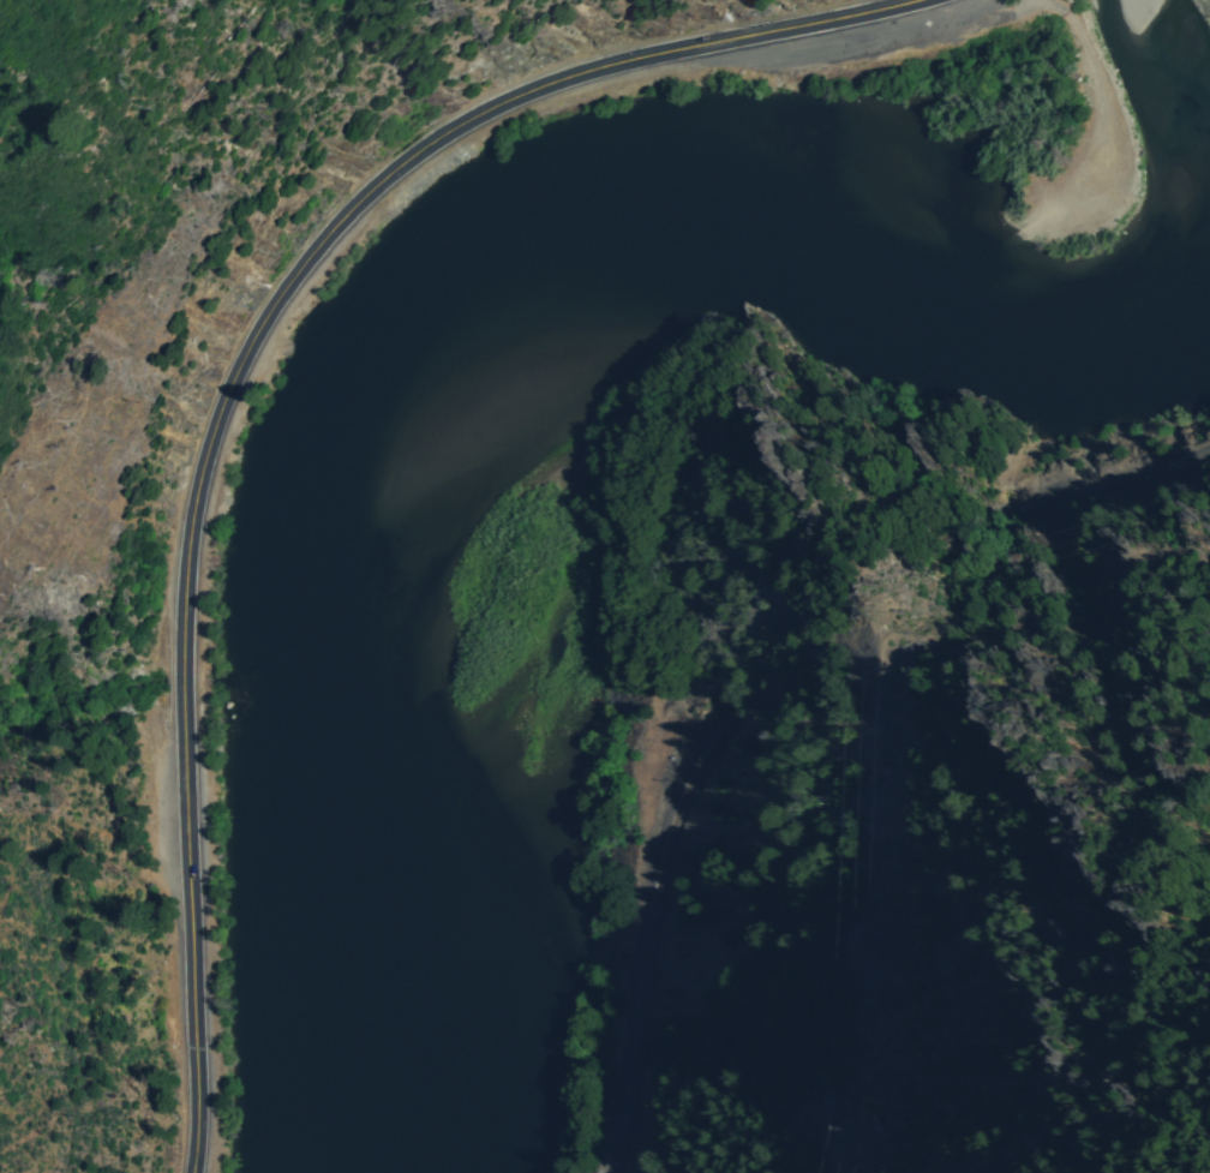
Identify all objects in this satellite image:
parking lot: (1208, 4)
parking lot: (1100, 125)
river: (858, 249)
road: (236, 369)
railway: (1104, 484)
river: (349, 514)
power tower: (886, 617)
railway: (648, 932)
river: (357, 985)

